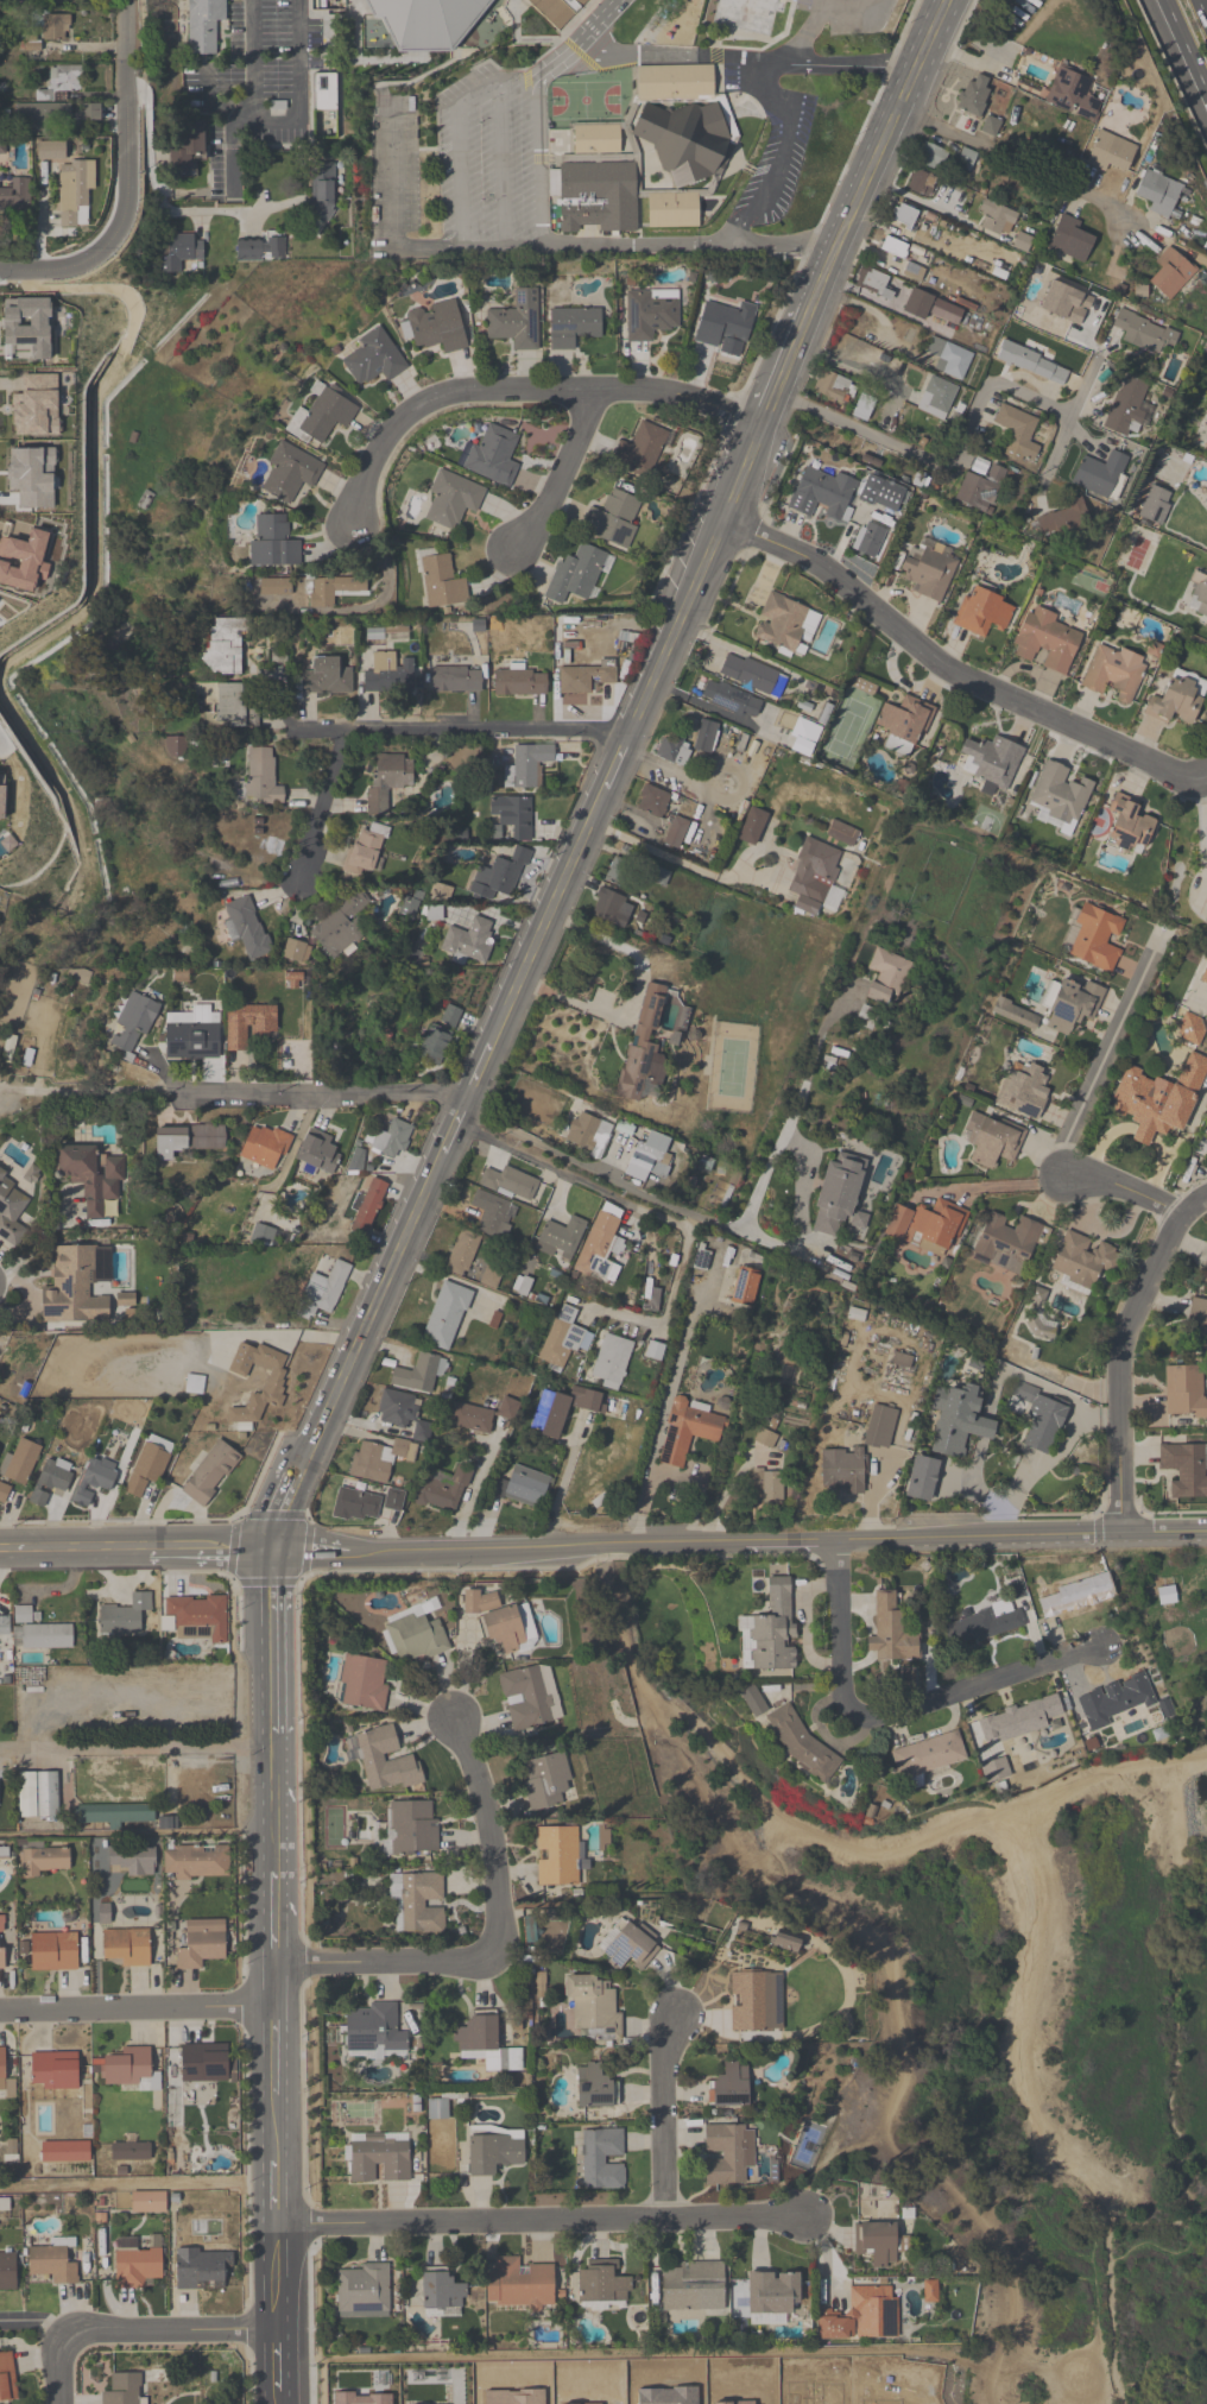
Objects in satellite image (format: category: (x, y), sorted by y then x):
road: (1202, 7)
building: (556, 11)
road: (849, 11)
building: (747, 15)
building: (428, 23)
road: (600, 24)
building: (203, 25)
building: (55, 26)
road: (808, 30)
road: (1186, 48)
road: (251, 59)
road: (747, 63)
building: (675, 83)
road: (207, 84)
road: (298, 94)
building: (1073, 94)
building: (974, 95)
building: (51, 100)
road: (228, 107)
building: (990, 127)
building: (689, 141)
road: (124, 144)
building: (187, 144)
road: (878, 152)
building: (1110, 152)
road: (457, 153)
building: (931, 156)
road: (781, 157)
road: (232, 159)
building: (966, 159)
road: (1016, 163)
building: (921, 183)
building: (70, 185)
building: (322, 193)
building: (1158, 193)
building: (15, 196)
building: (596, 196)
road: (160, 200)
road: (917, 200)
road: (392, 208)
building: (671, 209)
building: (903, 216)
building: (997, 219)
building: (1069, 239)
building: (1022, 242)
road: (691, 245)
building: (892, 247)
building: (259, 250)
building: (179, 251)
road: (38, 270)
building: (914, 273)
building: (1170, 275)
building: (873, 283)
building: (650, 314)
building: (516, 322)
building: (723, 323)
building: (435, 327)
building: (573, 327)
building: (1143, 332)
building: (948, 358)
building: (373, 359)
building: (1031, 364)
road: (786, 365)
road: (849, 367)
road: (523, 386)
building: (937, 397)
building: (1126, 405)
road: (1073, 412)
building: (323, 416)
building: (1017, 433)
building: (639, 452)
building: (1206, 452)
building: (493, 456)
road: (943, 460)
building: (291, 472)
road: (741, 472)
building: (1099, 473)
road: (560, 474)
building: (979, 490)
building: (822, 494)
building: (883, 494)
building: (451, 499)
building: (1155, 505)
building: (613, 518)
building: (1061, 520)
building: (868, 540)
building: (273, 544)
building: (929, 572)
building: (576, 575)
building: (440, 580)
building: (273, 588)
building: (330, 591)
building: (1199, 594)
building: (982, 612)
building: (785, 624)
road: (675, 631)
building: (1047, 642)
building: (226, 646)
building: (1114, 673)
building: (752, 675)
road: (954, 675)
building: (390, 676)
building: (326, 679)
building: (456, 680)
building: (582, 680)
building: (519, 682)
building: (731, 699)
building: (1177, 702)
building: (235, 707)
building: (905, 721)
road: (462, 734)
building: (704, 737)
building: (671, 751)
building: (991, 763)
road: (617, 765)
building: (527, 766)
building: (261, 778)
building: (386, 781)
building: (1059, 799)
building: (652, 802)
road: (324, 808)
building: (512, 815)
building: (752, 826)
building: (1126, 826)
building: (675, 833)
building: (365, 853)
road: (1203, 853)
building: (618, 871)
building: (501, 876)
building: (657, 876)
building: (813, 876)
building: (611, 908)
road: (550, 917)
building: (246, 927)
building: (342, 927)
building: (1094, 939)
building: (469, 941)
building: (293, 952)
building: (886, 977)
building: (1203, 977)
building: (1070, 1005)
building: (450, 1016)
building: (1023, 1020)
building: (132, 1023)
building: (248, 1024)
building: (1190, 1028)
building: (191, 1037)
building: (434, 1046)
building: (644, 1048)
road: (1107, 1068)
road: (478, 1078)
building: (1022, 1089)
road: (90, 1093)
road: (324, 1094)
road: (12, 1098)
building: (1158, 1099)
road: (785, 1125)
road: (454, 1131)
building: (588, 1134)
building: (392, 1138)
building: (992, 1140)
building: (187, 1141)
building: (265, 1147)
building: (318, 1151)
building: (647, 1159)
road: (584, 1166)
building: (90, 1176)
building: (510, 1184)
road: (1007, 1185)
building: (839, 1197)
road: (1124, 1198)
building: (368, 1206)
road: (644, 1209)
building: (12, 1210)
building: (491, 1212)
road: (801, 1212)
building: (929, 1225)
building: (560, 1238)
road: (39, 1239)
building: (1006, 1244)
building: (598, 1247)
building: (462, 1254)
building: (1083, 1260)
building: (1206, 1262)
building: (488, 1277)
building: (745, 1288)
building: (72, 1289)
building: (323, 1292)
road: (26, 1296)
building: (653, 1298)
road: (374, 1313)
building: (445, 1315)
building: (1196, 1326)
building: (561, 1337)
building: (653, 1352)
road: (1123, 1354)
building: (611, 1361)
building: (417, 1374)
building: (273, 1384)
building: (1183, 1393)
road: (665, 1403)
building: (397, 1408)
building: (564, 1411)
building: (480, 1416)
building: (959, 1420)
building: (1043, 1424)
building: (421, 1431)
building: (689, 1431)
building: (874, 1432)
building: (766, 1439)
building: (379, 1459)
building: (20, 1463)
building: (146, 1469)
building: (1184, 1470)
building: (843, 1471)
building: (100, 1474)
building: (210, 1474)
building: (53, 1476)
building: (921, 1479)
road: (562, 1487)
building: (523, 1488)
building: (766, 1489)
building: (443, 1490)
building: (4, 1491)
building: (83, 1495)
road: (472, 1497)
building: (38, 1498)
building: (356, 1504)
road: (286, 1513)
road: (1020, 1534)
road: (790, 1540)
road: (546, 1544)
road: (309, 1553)
road: (208, 1554)
road: (74, 1556)
building: (1075, 1596)
building: (124, 1615)
building: (196, 1617)
building: (501, 1620)
building: (982, 1624)
building: (4, 1626)
building: (770, 1632)
building: (891, 1632)
building: (39, 1633)
building: (416, 1633)
road: (270, 1643)
building: (364, 1684)
building: (530, 1697)
building: (1120, 1703)
road: (898, 1710)
building: (1019, 1720)
building: (792, 1736)
road: (135, 1750)
building: (928, 1755)
building: (386, 1762)
road: (1106, 1775)
building: (545, 1781)
building: (37, 1785)
building: (215, 1787)
road: (272, 1803)
building: (115, 1815)
road: (721, 1818)
building: (412, 1828)
road: (135, 1832)
road: (1018, 1835)
road: (488, 1843)
building: (4, 1853)
building: (557, 1856)
building: (43, 1861)
building: (196, 1863)
building: (419, 1901)
road: (1114, 1919)
road: (273, 1922)
building: (785, 1941)
building: (1, 1944)
building: (201, 1945)
building: (627, 1945)
building: (125, 1948)
building: (52, 1952)
road: (1154, 1952)
road: (385, 1969)
road: (274, 1990)
building: (750, 2002)
building: (594, 2008)
road: (138, 2012)
building: (374, 2032)
park: (1005, 2037)
building: (485, 2043)
road: (276, 2052)
building: (202, 2065)
building: (2, 2067)
road: (1148, 2067)
building: (127, 2069)
building: (52, 2074)
building: (595, 2087)
building: (731, 2087)
building: (437, 2108)
road: (663, 2119)
road: (276, 2127)
road: (889, 2139)
building: (494, 2150)
building: (131, 2151)
building: (64, 2152)
building: (727, 2153)
building: (378, 2158)
building: (602, 2160)
road: (139, 2187)
road: (278, 2191)
road: (1112, 2195)
building: (147, 2202)
road: (539, 2220)
building: (880, 2242)
road: (1156, 2247)
building: (52, 2263)
building: (134, 2264)
building: (198, 2270)
building: (7, 2272)
road: (279, 2278)
building: (518, 2285)
building: (602, 2285)
building: (693, 2288)
building: (362, 2291)
building: (441, 2292)
building: (773, 2293)
building: (860, 2316)
road: (138, 2334)
road: (280, 2367)
road: (61, 2370)
building: (7, 2378)
building: (599, 2387)
building: (864, 2389)
building: (124, 2390)
road: (282, 2403)

